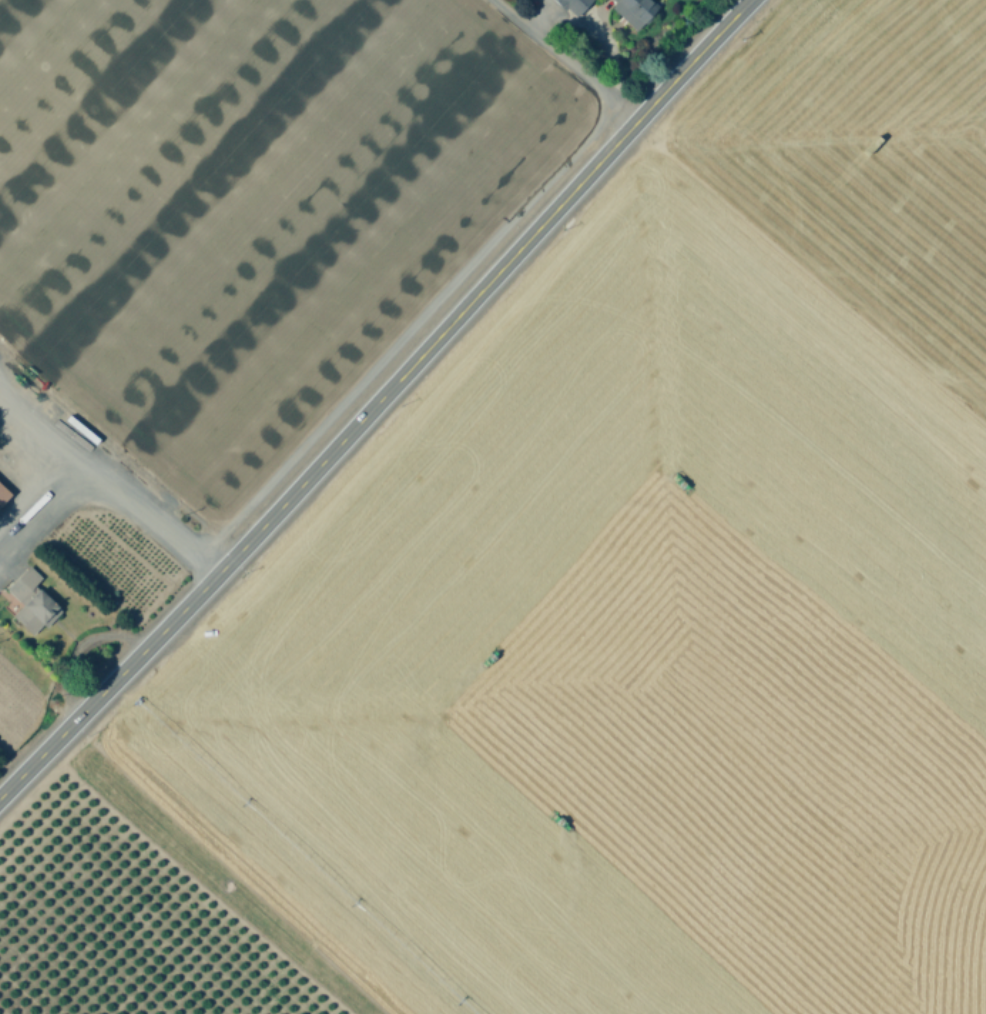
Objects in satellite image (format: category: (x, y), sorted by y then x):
building: (573, 6)
building: (634, 11)
road: (566, 59)
crop: (238, 254)
road: (377, 400)
road: (109, 479)
road: (39, 492)
building: (3, 493)
building: (24, 583)
building: (36, 611)
crop: (611, 623)

